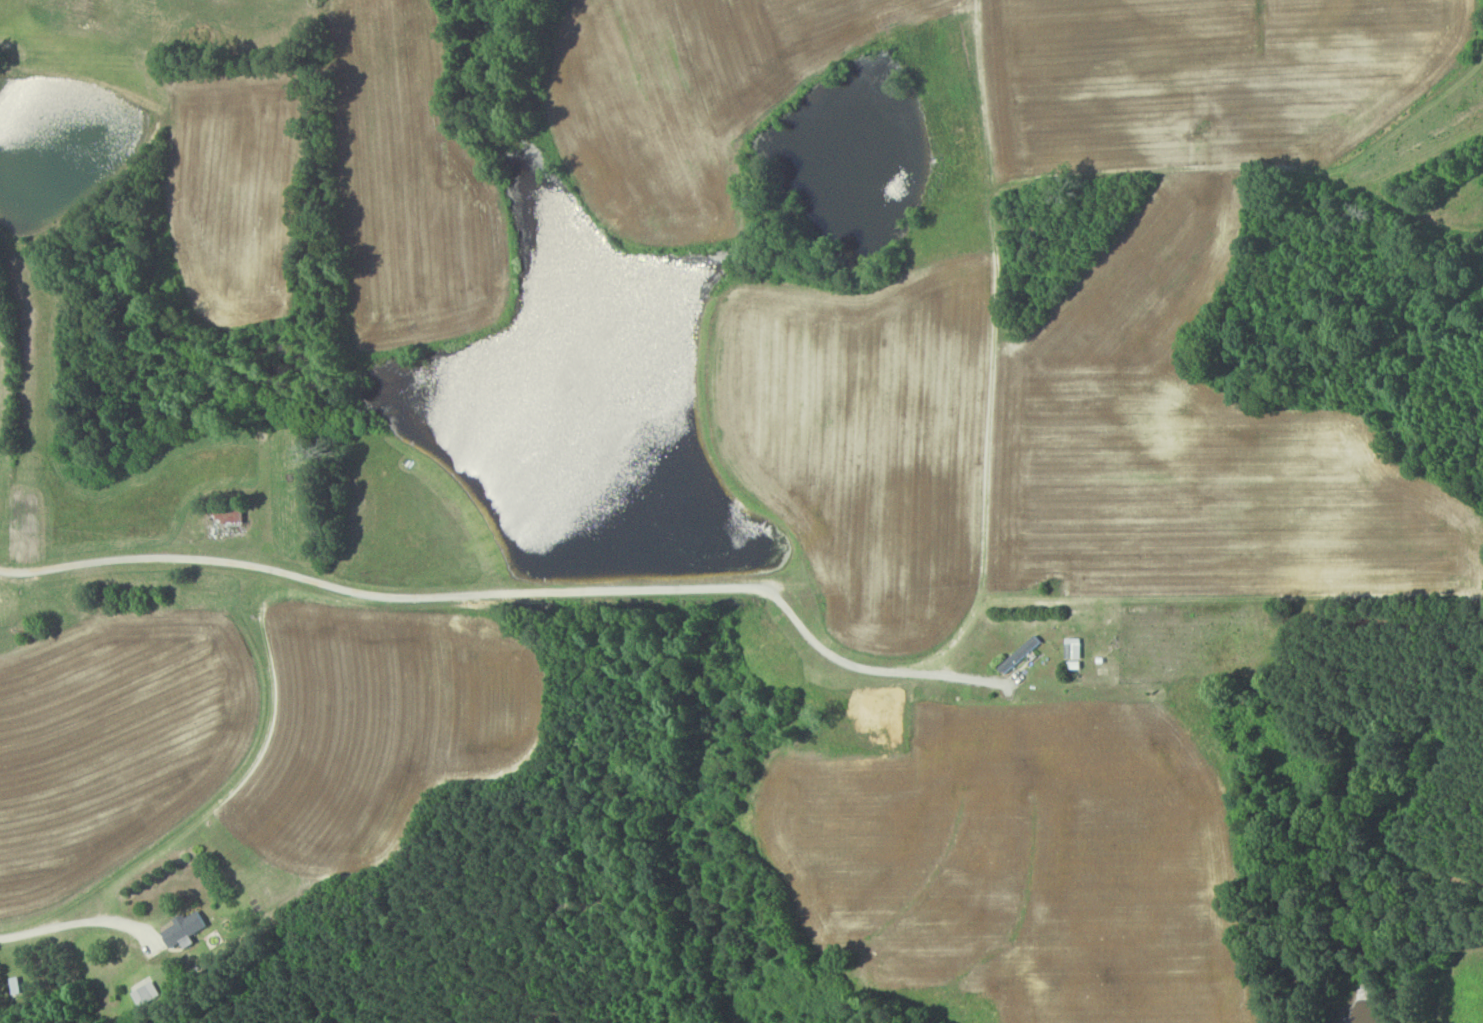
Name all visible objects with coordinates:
building: (232, 518)
road: (812, 639)
building: (1075, 652)
building: (1020, 656)
road: (73, 922)
building: (186, 929)
building: (147, 993)

